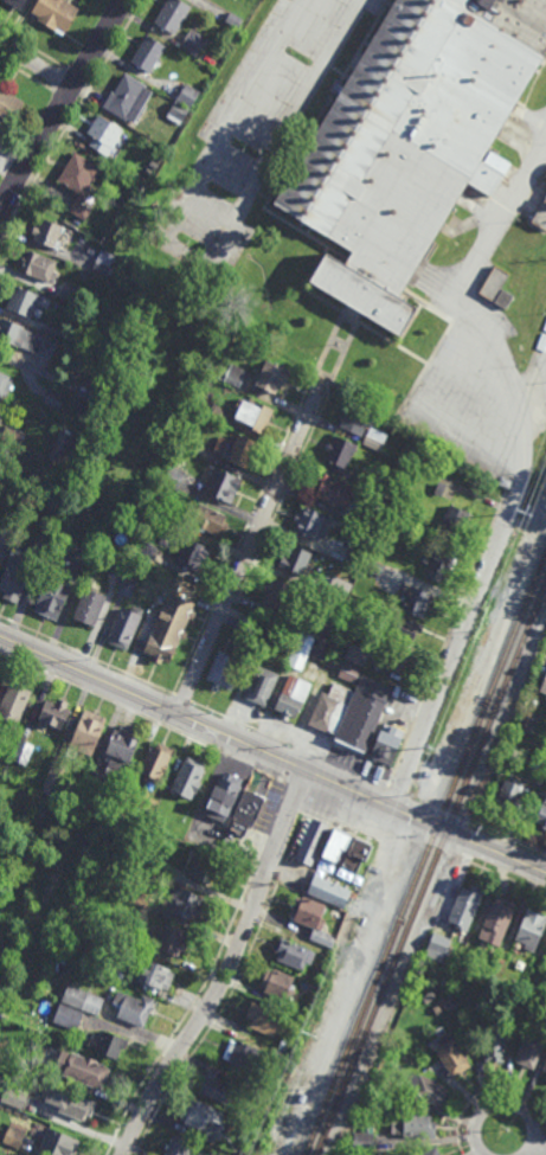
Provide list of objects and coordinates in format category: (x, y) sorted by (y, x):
building: (18, 2)
building: (56, 13)
building: (173, 14)
building: (235, 19)
building: (194, 41)
road: (34, 50)
building: (148, 52)
road: (36, 65)
road: (26, 73)
road: (81, 77)
building: (188, 96)
road: (66, 97)
building: (128, 97)
building: (8, 104)
road: (62, 108)
road: (75, 113)
building: (178, 113)
building: (104, 135)
building: (412, 142)
building: (153, 166)
building: (79, 173)
building: (149, 173)
building: (81, 211)
building: (541, 216)
road: (5, 225)
building: (49, 233)
building: (108, 240)
building: (103, 262)
road: (201, 263)
building: (39, 267)
building: (495, 283)
building: (69, 291)
building: (506, 299)
building: (23, 302)
road: (461, 316)
building: (56, 329)
building: (231, 334)
building: (25, 339)
building: (232, 376)
building: (274, 377)
building: (5, 385)
building: (98, 397)
building: (53, 399)
building: (220, 415)
building: (253, 416)
building: (358, 419)
building: (12, 437)
building: (374, 443)
building: (65, 447)
building: (199, 449)
building: (242, 453)
building: (341, 453)
building: (1, 475)
building: (174, 479)
building: (444, 480)
building: (506, 482)
building: (372, 483)
building: (224, 487)
building: (333, 490)
building: (368, 518)
power tower: (521, 519)
building: (208, 520)
building: (173, 521)
building: (456, 521)
building: (79, 522)
building: (311, 522)
building: (11, 528)
building: (358, 546)
building: (0, 547)
building: (39, 548)
building: (143, 548)
road: (249, 550)
building: (192, 553)
building: (58, 554)
building: (120, 558)
building: (296, 558)
building: (438, 560)
building: (340, 566)
building: (374, 566)
building: (17, 575)
building: (126, 585)
building: (340, 586)
building: (325, 589)
building: (278, 592)
building: (52, 596)
building: (416, 598)
building: (89, 605)
building: (169, 621)
building: (356, 621)
building: (325, 623)
building: (124, 625)
building: (406, 627)
building: (245, 628)
building: (274, 631)
building: (308, 648)
road: (455, 652)
building: (358, 653)
road: (88, 655)
building: (399, 661)
building: (224, 669)
building: (349, 672)
building: (261, 685)
building: (544, 685)
building: (293, 695)
building: (545, 697)
road: (185, 698)
road: (110, 702)
building: (545, 704)
building: (13, 705)
building: (332, 708)
building: (365, 712)
building: (54, 713)
road: (226, 717)
building: (527, 720)
road: (197, 721)
building: (86, 733)
building: (388, 743)
building: (120, 749)
building: (540, 750)
building: (23, 751)
road: (323, 757)
power tower: (426, 759)
building: (154, 763)
road: (252, 769)
building: (57, 775)
building: (1, 778)
building: (188, 778)
building: (95, 779)
building: (426, 779)
building: (8, 782)
road: (296, 790)
road: (400, 791)
building: (34, 794)
building: (509, 796)
building: (223, 797)
building: (249, 808)
road: (437, 813)
building: (541, 813)
road: (473, 824)
road: (388, 829)
building: (313, 841)
road: (514, 841)
road: (469, 842)
building: (336, 846)
building: (358, 854)
railway: (425, 854)
building: (155, 861)
building: (201, 867)
railway: (432, 868)
road: (508, 879)
building: (329, 892)
building: (185, 904)
building: (468, 907)
building: (336, 912)
building: (167, 916)
building: (311, 918)
building: (499, 919)
building: (532, 929)
building: (139, 939)
building: (172, 941)
building: (437, 947)
building: (294, 954)
building: (545, 955)
building: (501, 961)
building: (520, 964)
road: (229, 969)
building: (320, 969)
building: (118, 973)
building: (155, 974)
building: (90, 975)
building: (535, 975)
building: (278, 986)
building: (83, 999)
building: (134, 1007)
building: (438, 1010)
building: (69, 1016)
building: (268, 1020)
power tower: (304, 1032)
building: (43, 1040)
building: (496, 1042)
building: (108, 1044)
building: (287, 1045)
building: (5, 1048)
building: (532, 1050)
building: (450, 1053)
building: (244, 1055)
building: (280, 1057)
railway: (347, 1061)
building: (83, 1069)
building: (544, 1069)
building: (545, 1079)
building: (218, 1090)
building: (426, 1090)
building: (263, 1092)
building: (14, 1097)
building: (69, 1102)
road: (503, 1103)
building: (204, 1119)
building: (238, 1125)
building: (412, 1128)
building: (15, 1135)
building: (54, 1141)
building: (373, 1141)
road: (539, 1146)
building: (179, 1147)
building: (431, 1151)
building: (245, 1153)

